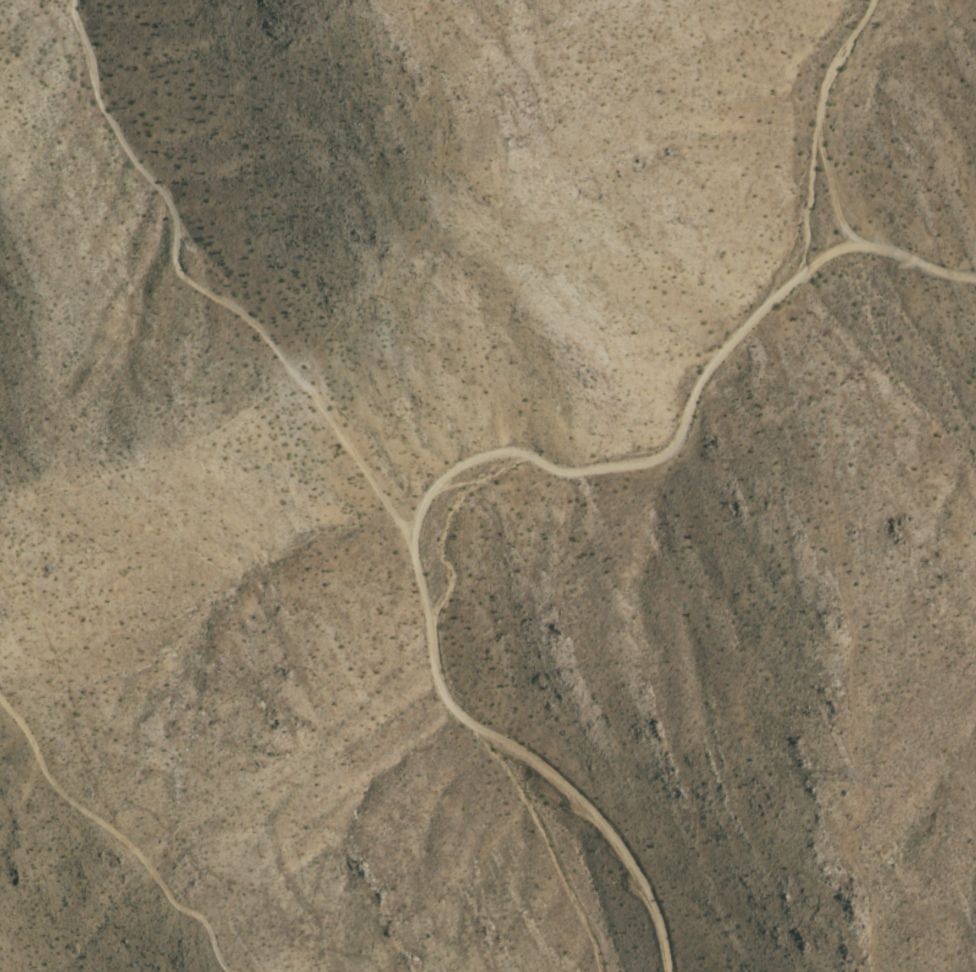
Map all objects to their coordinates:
road: (694, 417)
road: (539, 762)
power tower: (847, 776)

